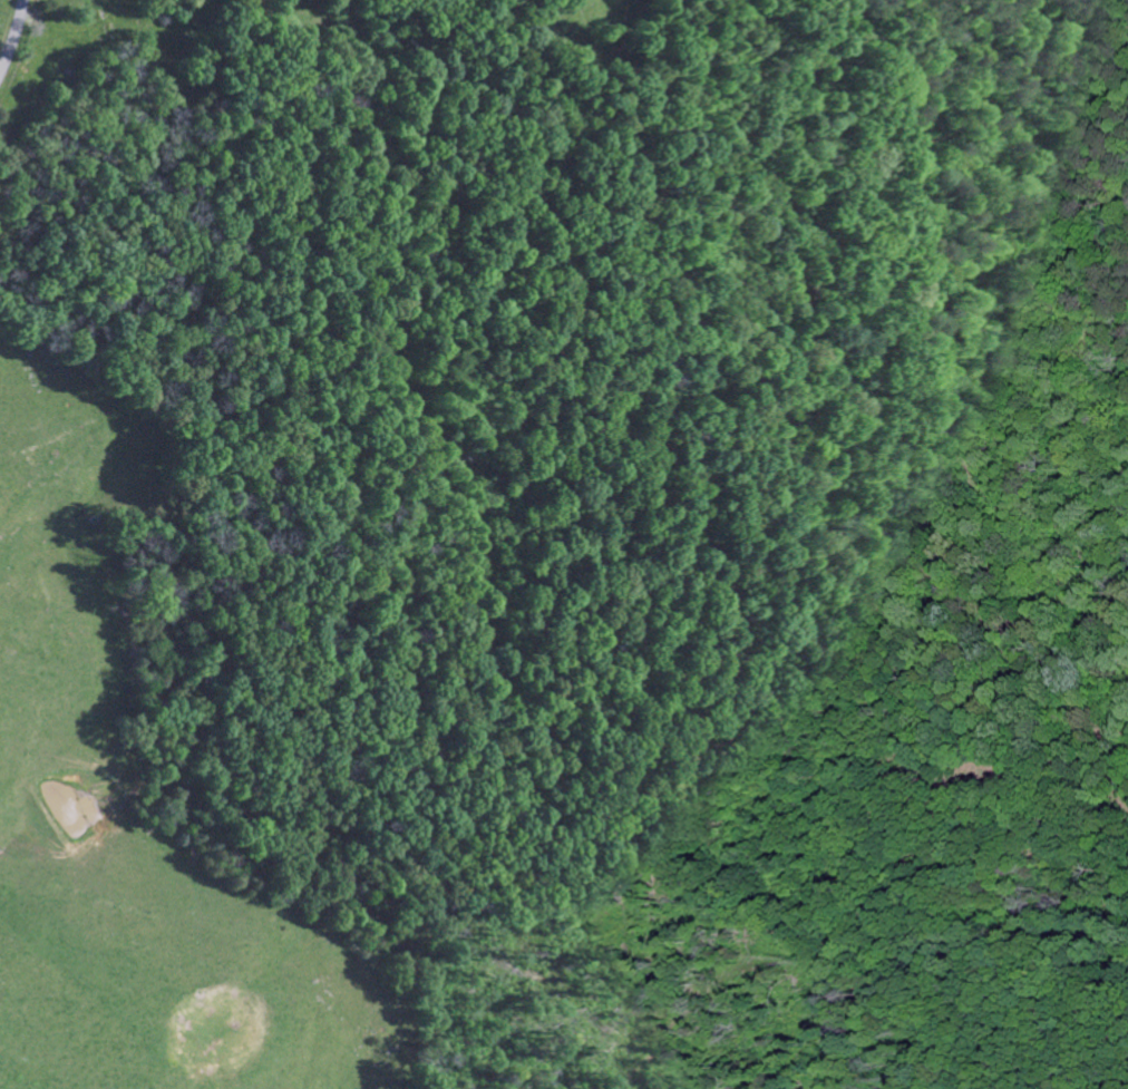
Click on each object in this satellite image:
road: (12, 33)

